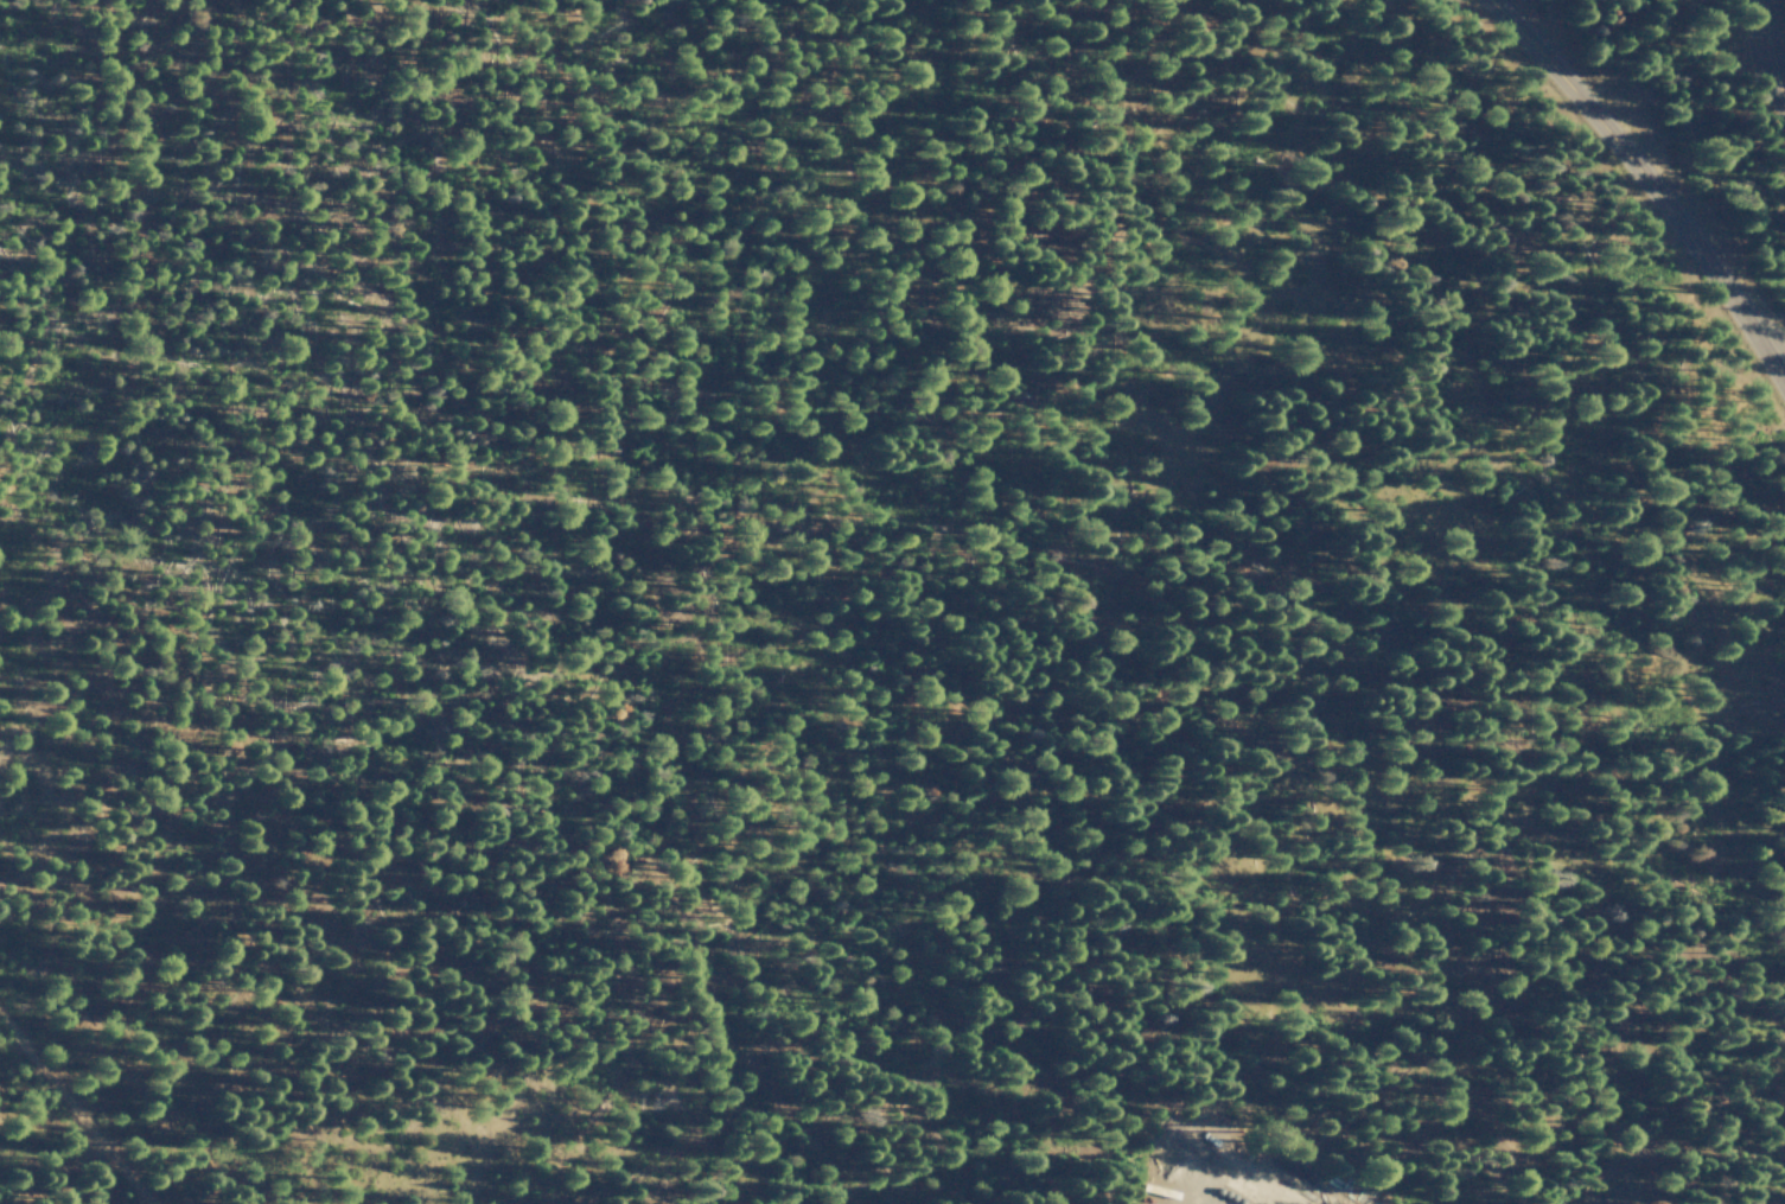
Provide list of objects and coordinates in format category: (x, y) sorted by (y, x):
road: (1771, 52)
road: (1647, 181)
road: (1780, 359)

